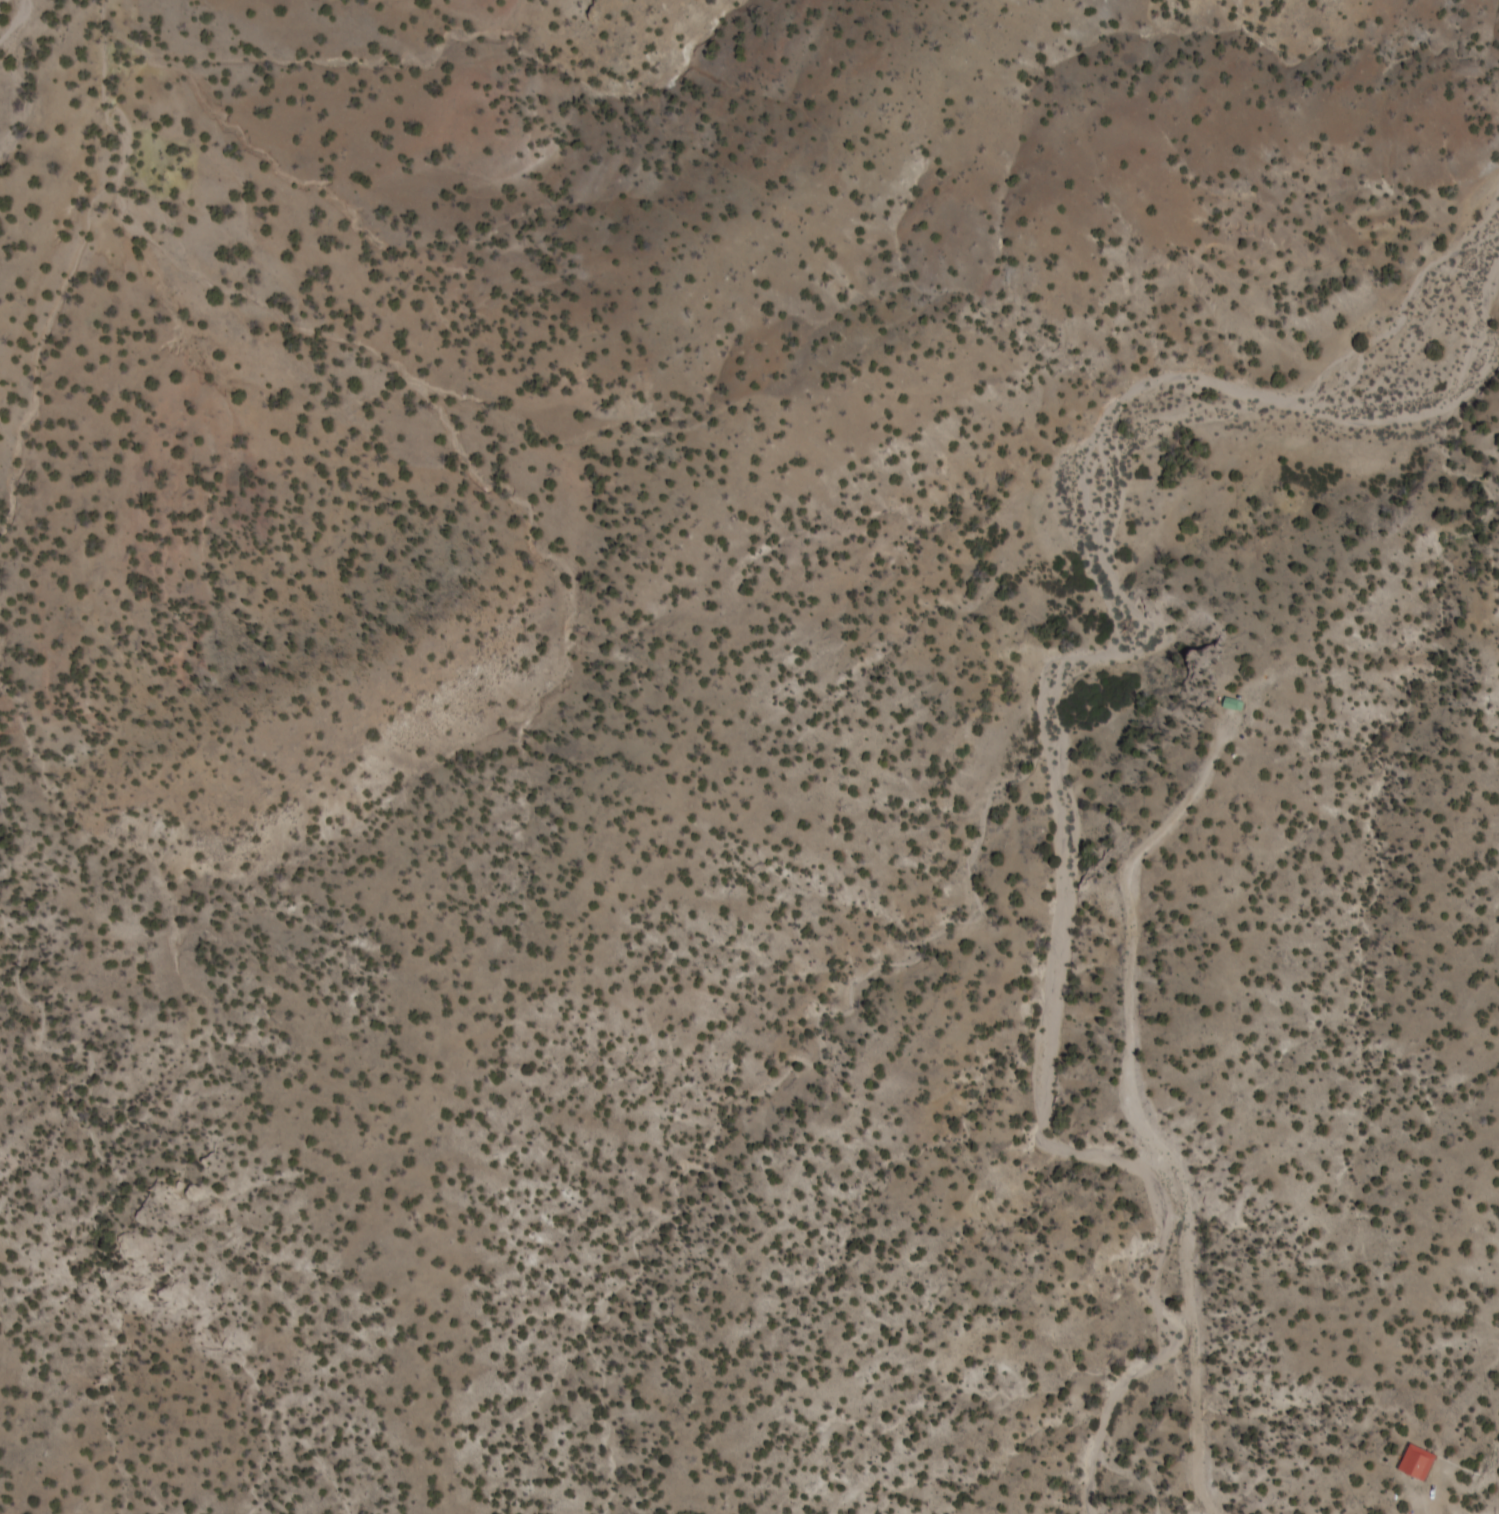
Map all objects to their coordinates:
building: (1240, 694)
building: (1243, 705)
road: (1154, 1119)
building: (1424, 1453)
road: (1442, 1502)

